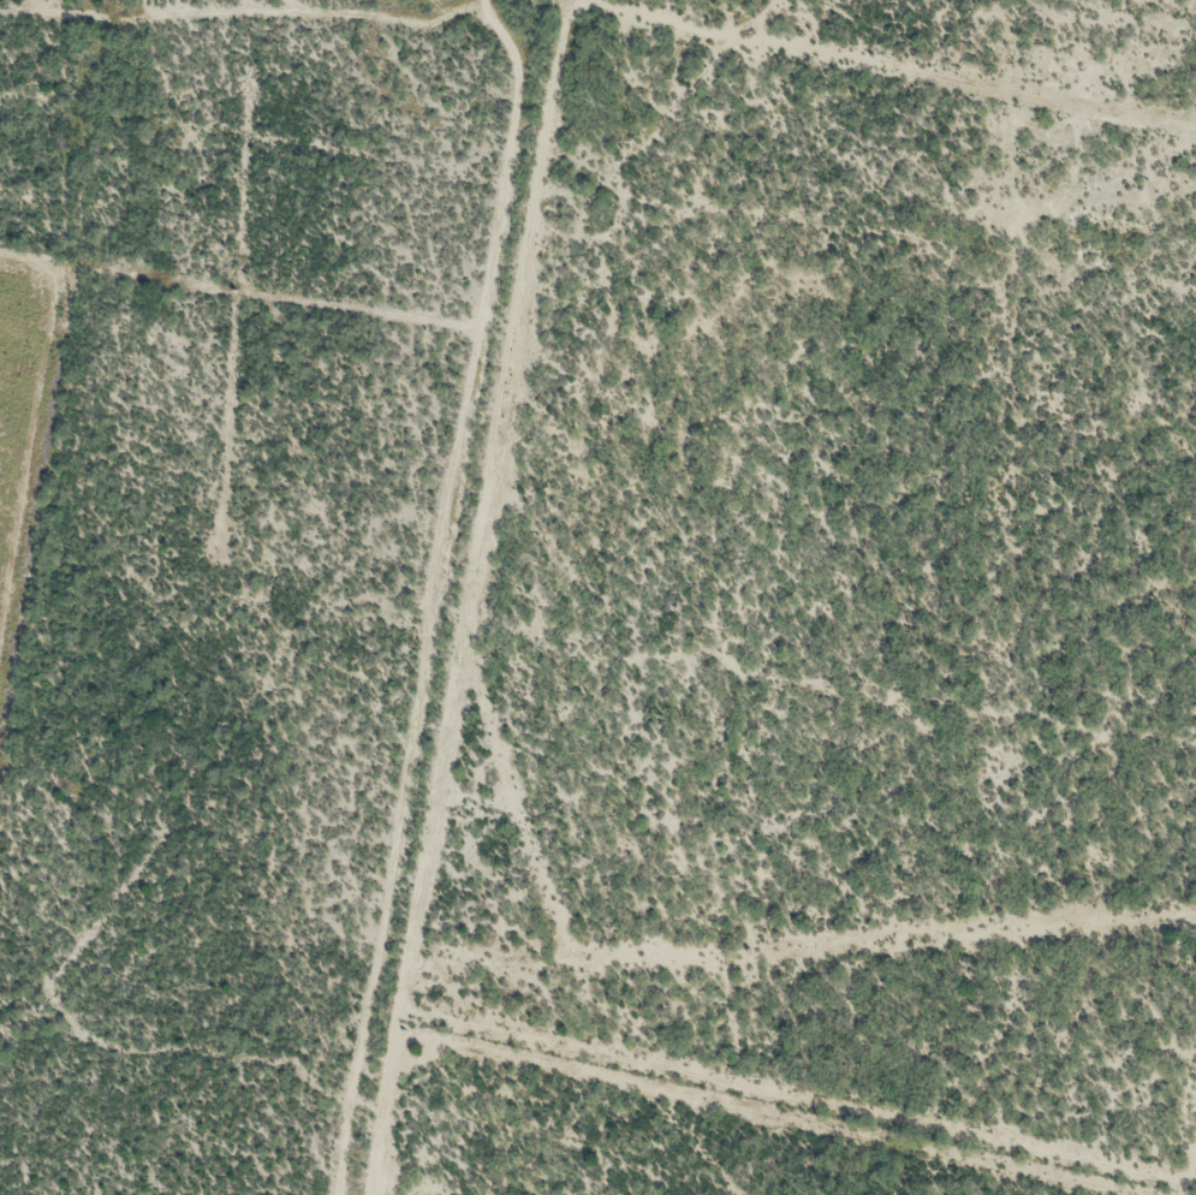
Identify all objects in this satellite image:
road: (67, 434)

